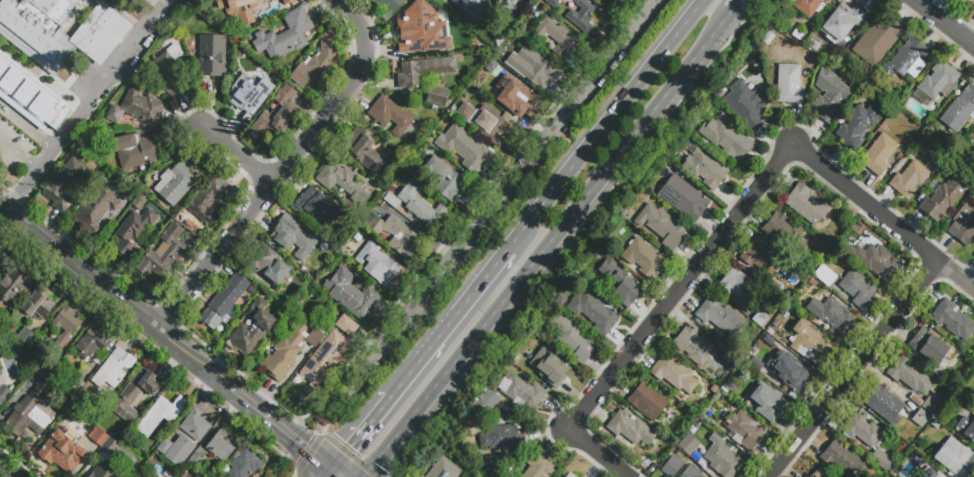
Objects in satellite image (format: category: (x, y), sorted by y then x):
building: (454, 0)
building: (151, 1)
building: (609, 1)
building: (967, 1)
building: (972, 1)
building: (421, 2)
road: (736, 5)
building: (507, 6)
building: (809, 6)
building: (271, 7)
building: (387, 7)
building: (470, 9)
building: (237, 10)
building: (577, 12)
building: (842, 22)
road: (944, 23)
building: (38, 30)
building: (100, 33)
building: (418, 33)
building: (285, 35)
building: (555, 37)
building: (877, 41)
road: (128, 54)
building: (213, 55)
building: (910, 59)
building: (315, 65)
building: (530, 66)
building: (4, 67)
building: (170, 69)
building: (424, 71)
building: (113, 78)
building: (11, 81)
building: (789, 84)
building: (936, 84)
building: (253, 92)
building: (26, 94)
road: (343, 94)
building: (513, 95)
building: (830, 95)
building: (438, 96)
building: (746, 104)
building: (42, 106)
building: (137, 108)
building: (959, 110)
building: (277, 111)
building: (391, 116)
building: (57, 117)
road: (606, 124)
road: (28, 126)
building: (485, 126)
building: (857, 126)
building: (726, 137)
road: (63, 139)
building: (463, 147)
building: (365, 153)
building: (135, 154)
road: (238, 154)
building: (879, 154)
road: (19, 155)
building: (973, 164)
building: (708, 169)
building: (910, 179)
building: (444, 180)
building: (342, 182)
building: (174, 183)
building: (63, 184)
road: (512, 184)
road: (23, 190)
building: (943, 197)
building: (209, 199)
building: (683, 199)
building: (391, 200)
building: (805, 204)
building: (420, 206)
road: (578, 206)
road: (4, 207)
building: (96, 207)
building: (318, 207)
road: (46, 223)
road: (729, 224)
building: (963, 225)
building: (661, 226)
road: (8, 227)
building: (782, 229)
building: (132, 232)
building: (390, 232)
building: (292, 237)
road: (65, 238)
building: (163, 251)
road: (216, 255)
building: (761, 257)
building: (2, 258)
road: (42, 258)
building: (643, 258)
building: (876, 261)
building: (377, 264)
building: (268, 266)
road: (84, 268)
road: (82, 270)
building: (825, 275)
building: (619, 283)
building: (15, 284)
building: (736, 285)
building: (857, 289)
building: (350, 294)
building: (224, 302)
building: (38, 303)
building: (598, 313)
road: (454, 316)
building: (832, 316)
building: (721, 318)
building: (761, 320)
building: (952, 320)
road: (87, 322)
road: (120, 323)
building: (65, 325)
building: (346, 326)
building: (252, 329)
road: (135, 335)
building: (575, 340)
building: (809, 343)
building: (25, 345)
building: (90, 345)
building: (693, 346)
building: (927, 346)
building: (288, 351)
road: (193, 358)
building: (324, 358)
building: (729, 359)
road: (221, 360)
road: (171, 363)
building: (114, 368)
building: (549, 369)
building: (0, 370)
building: (727, 370)
road: (855, 370)
building: (1, 373)
building: (790, 374)
building: (675, 375)
building: (909, 375)
road: (198, 382)
road: (360, 382)
building: (77, 388)
building: (725, 388)
building: (714, 389)
building: (4, 392)
road: (394, 392)
building: (521, 392)
road: (239, 394)
building: (134, 395)
road: (263, 395)
building: (487, 398)
building: (647, 401)
building: (767, 402)
building: (931, 402)
building: (883, 403)
road: (192, 405)
building: (31, 409)
building: (161, 413)
road: (334, 414)
building: (921, 418)
road: (219, 424)
building: (194, 425)
building: (966, 427)
building: (629, 430)
building: (744, 430)
building: (862, 430)
road: (359, 436)
building: (504, 436)
building: (98, 437)
road: (290, 437)
road: (394, 438)
building: (164, 446)
building: (221, 446)
traffic signals: (351, 447)
building: (690, 448)
traffic signals: (304, 449)
building: (61, 451)
building: (119, 453)
road: (308, 454)
road: (278, 458)
building: (722, 458)
building: (954, 458)
building: (842, 459)
building: (881, 459)
building: (194, 461)
building: (245, 464)
building: (672, 466)
building: (539, 467)
road: (5, 472)
building: (105, 472)
building: (439, 472)
building: (691, 472)
building: (929, 473)
road: (329, 474)
road: (335, 474)
building: (149, 475)
road: (295, 475)
building: (570, 475)
building: (811, 475)
building: (179, 476)
building: (207, 476)
building: (466, 476)

